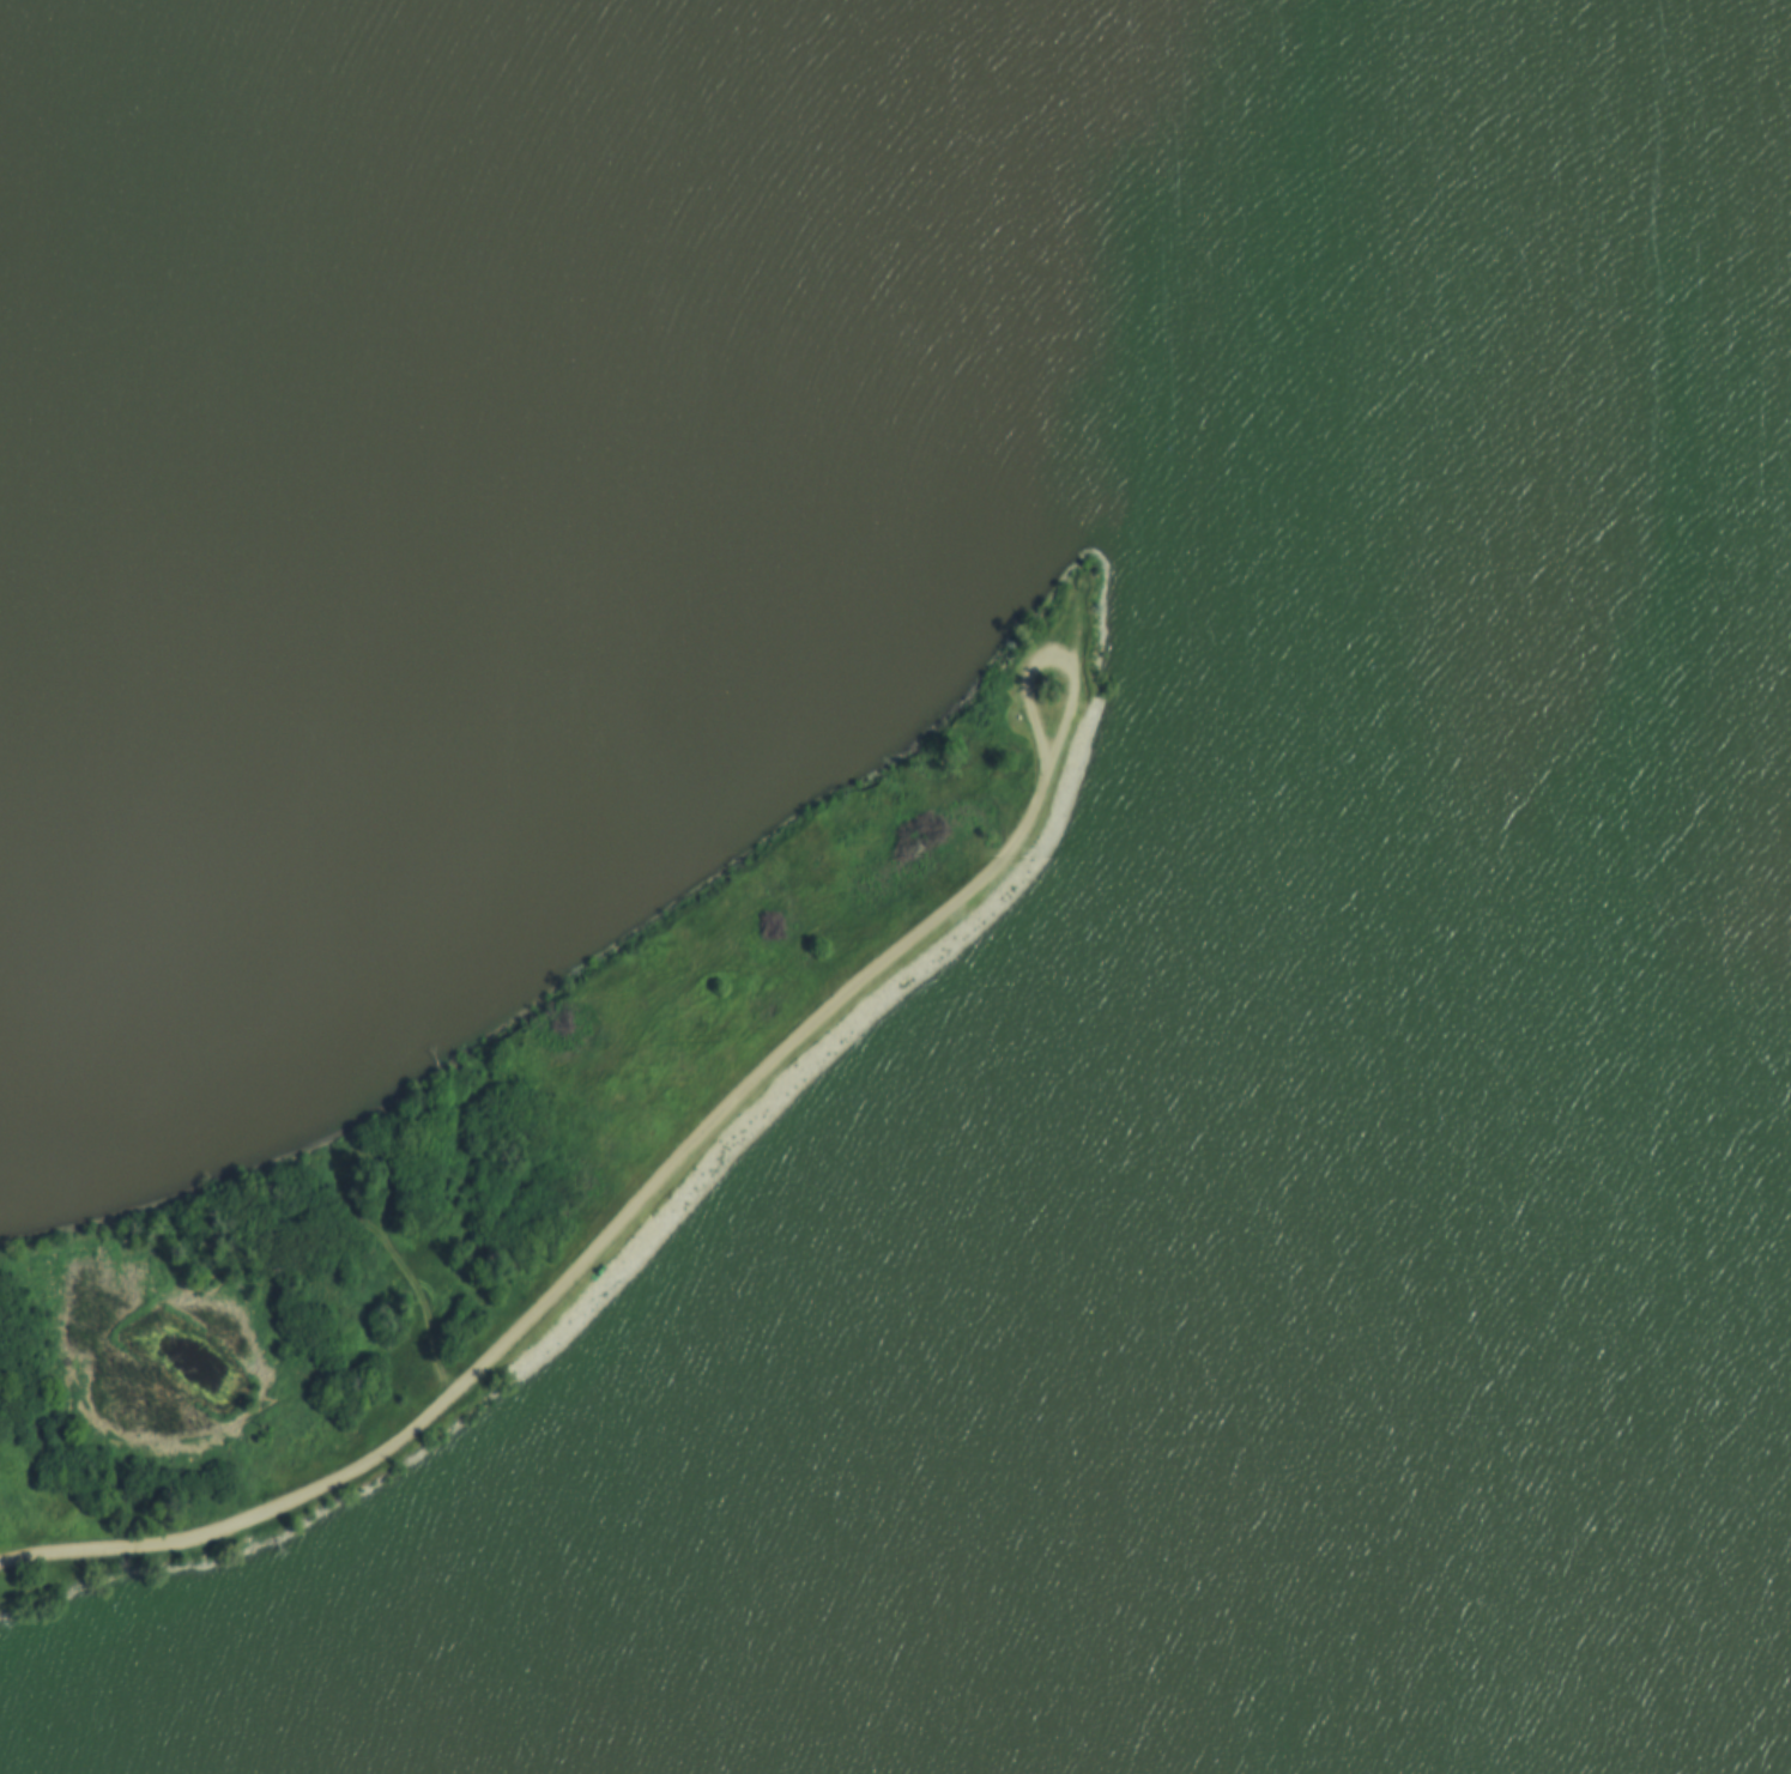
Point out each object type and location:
road: (1048, 660)
road: (365, 1235)
road: (587, 1263)

